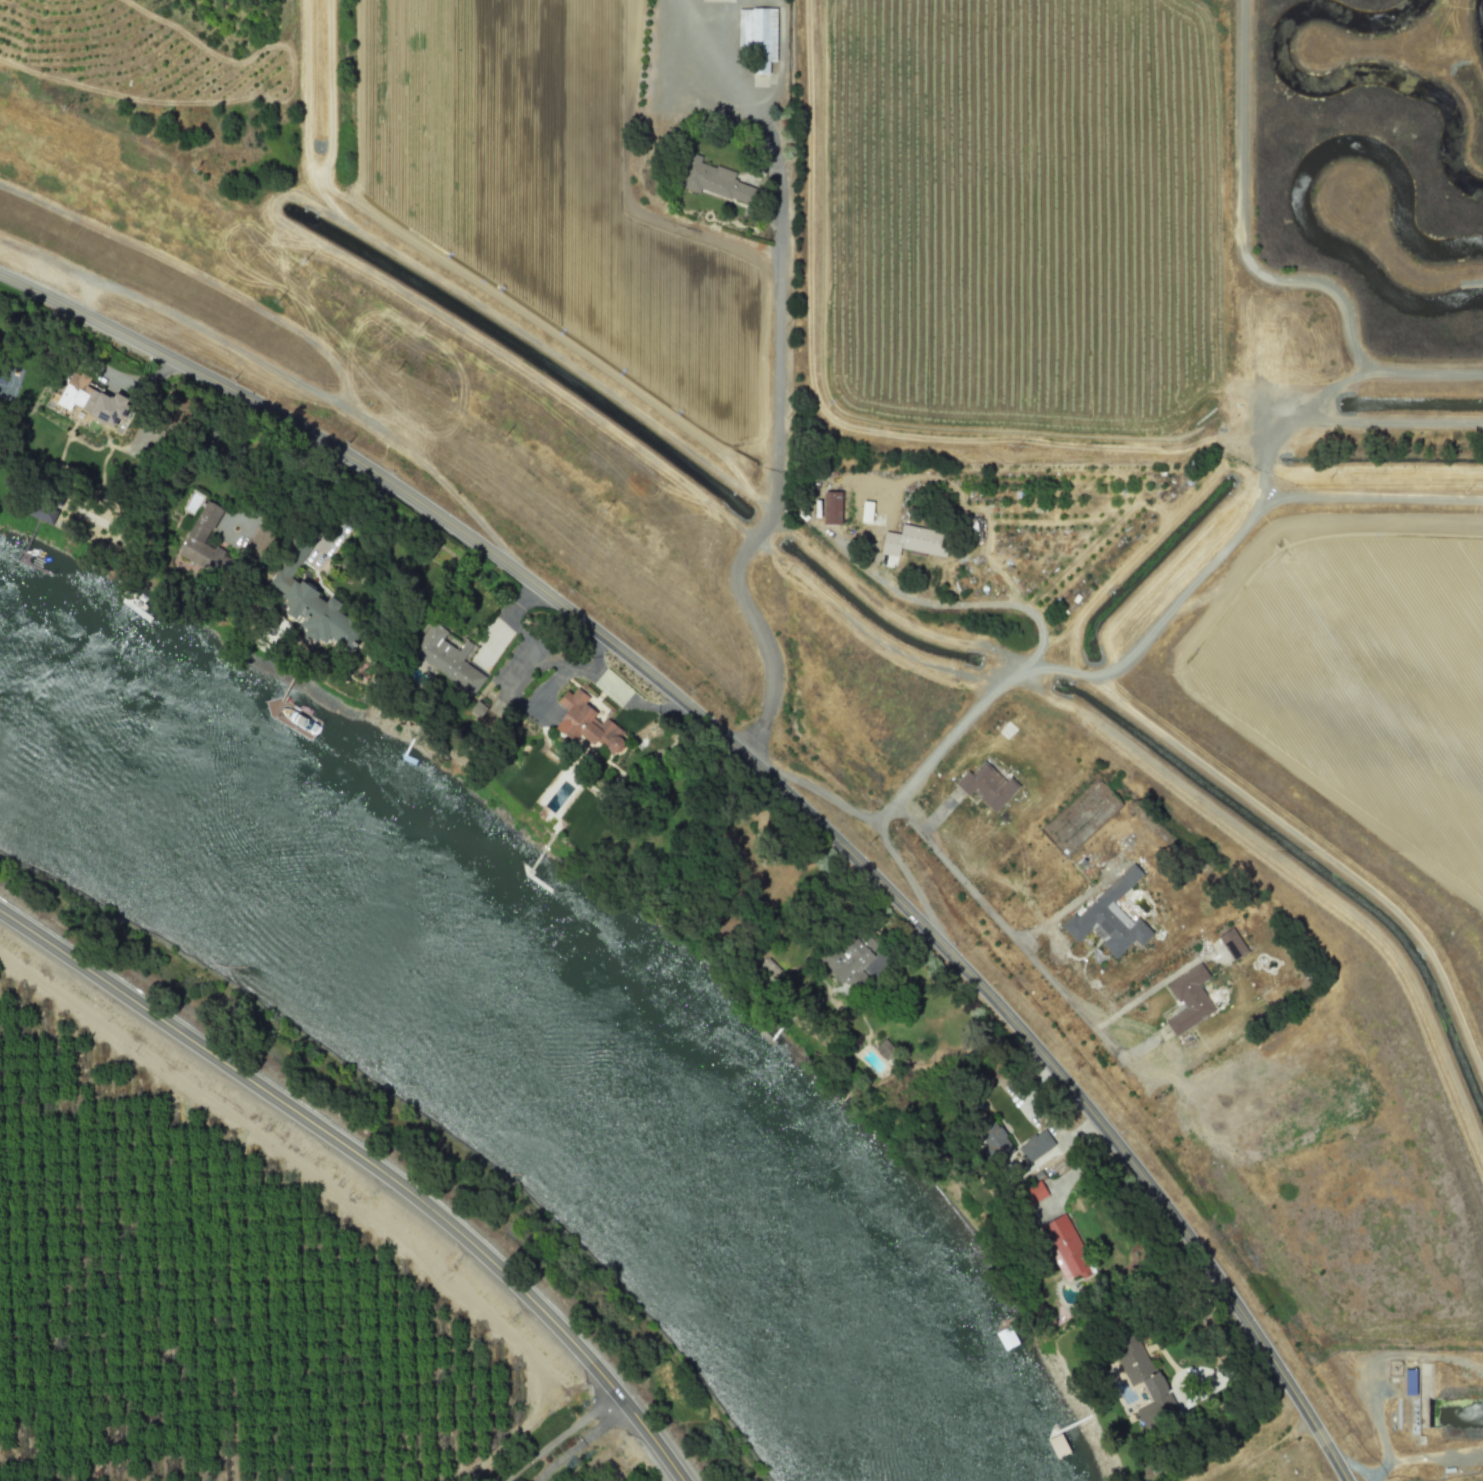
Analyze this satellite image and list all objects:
building: (758, 36)
road: (725, 86)
building: (715, 180)
building: (91, 399)
road: (776, 472)
building: (831, 507)
building: (44, 512)
road: (346, 517)
building: (258, 540)
building: (204, 542)
building: (912, 542)
road: (864, 571)
building: (311, 601)
road: (994, 604)
road: (541, 651)
road: (632, 700)
building: (477, 708)
building: (587, 722)
road: (766, 774)
building: (987, 784)
road: (905, 787)
building: (1107, 916)
road: (1007, 930)
building: (1232, 944)
building: (850, 960)
building: (1188, 999)
river: (523, 1030)
building: (884, 1049)
road: (323, 1133)
building: (993, 1143)
building: (1035, 1145)
building: (1035, 1191)
crop: (228, 1273)
road: (1190, 1374)
building: (1144, 1381)
building: (1409, 1382)
road: (1381, 1432)
road: (560, 1437)
road: (646, 1437)
road: (579, 1442)
road: (1353, 1466)

